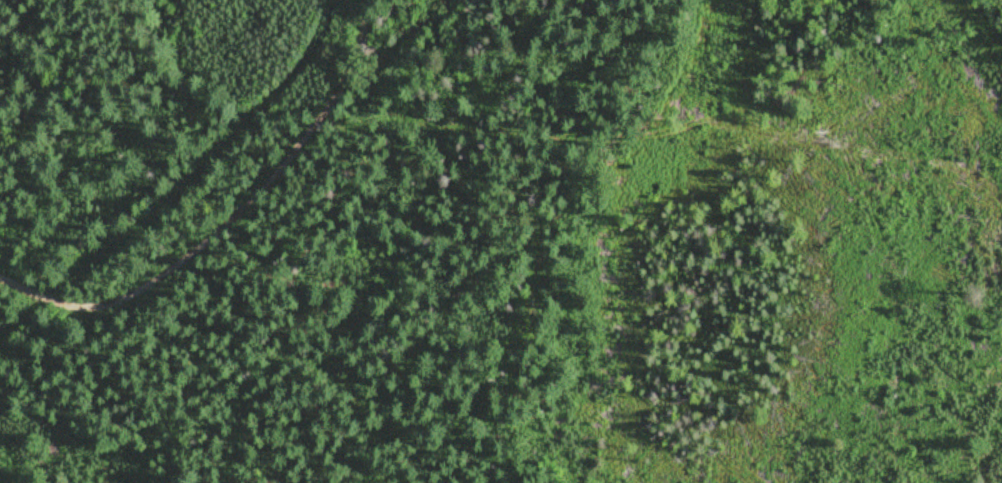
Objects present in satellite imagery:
road: (228, 221)

